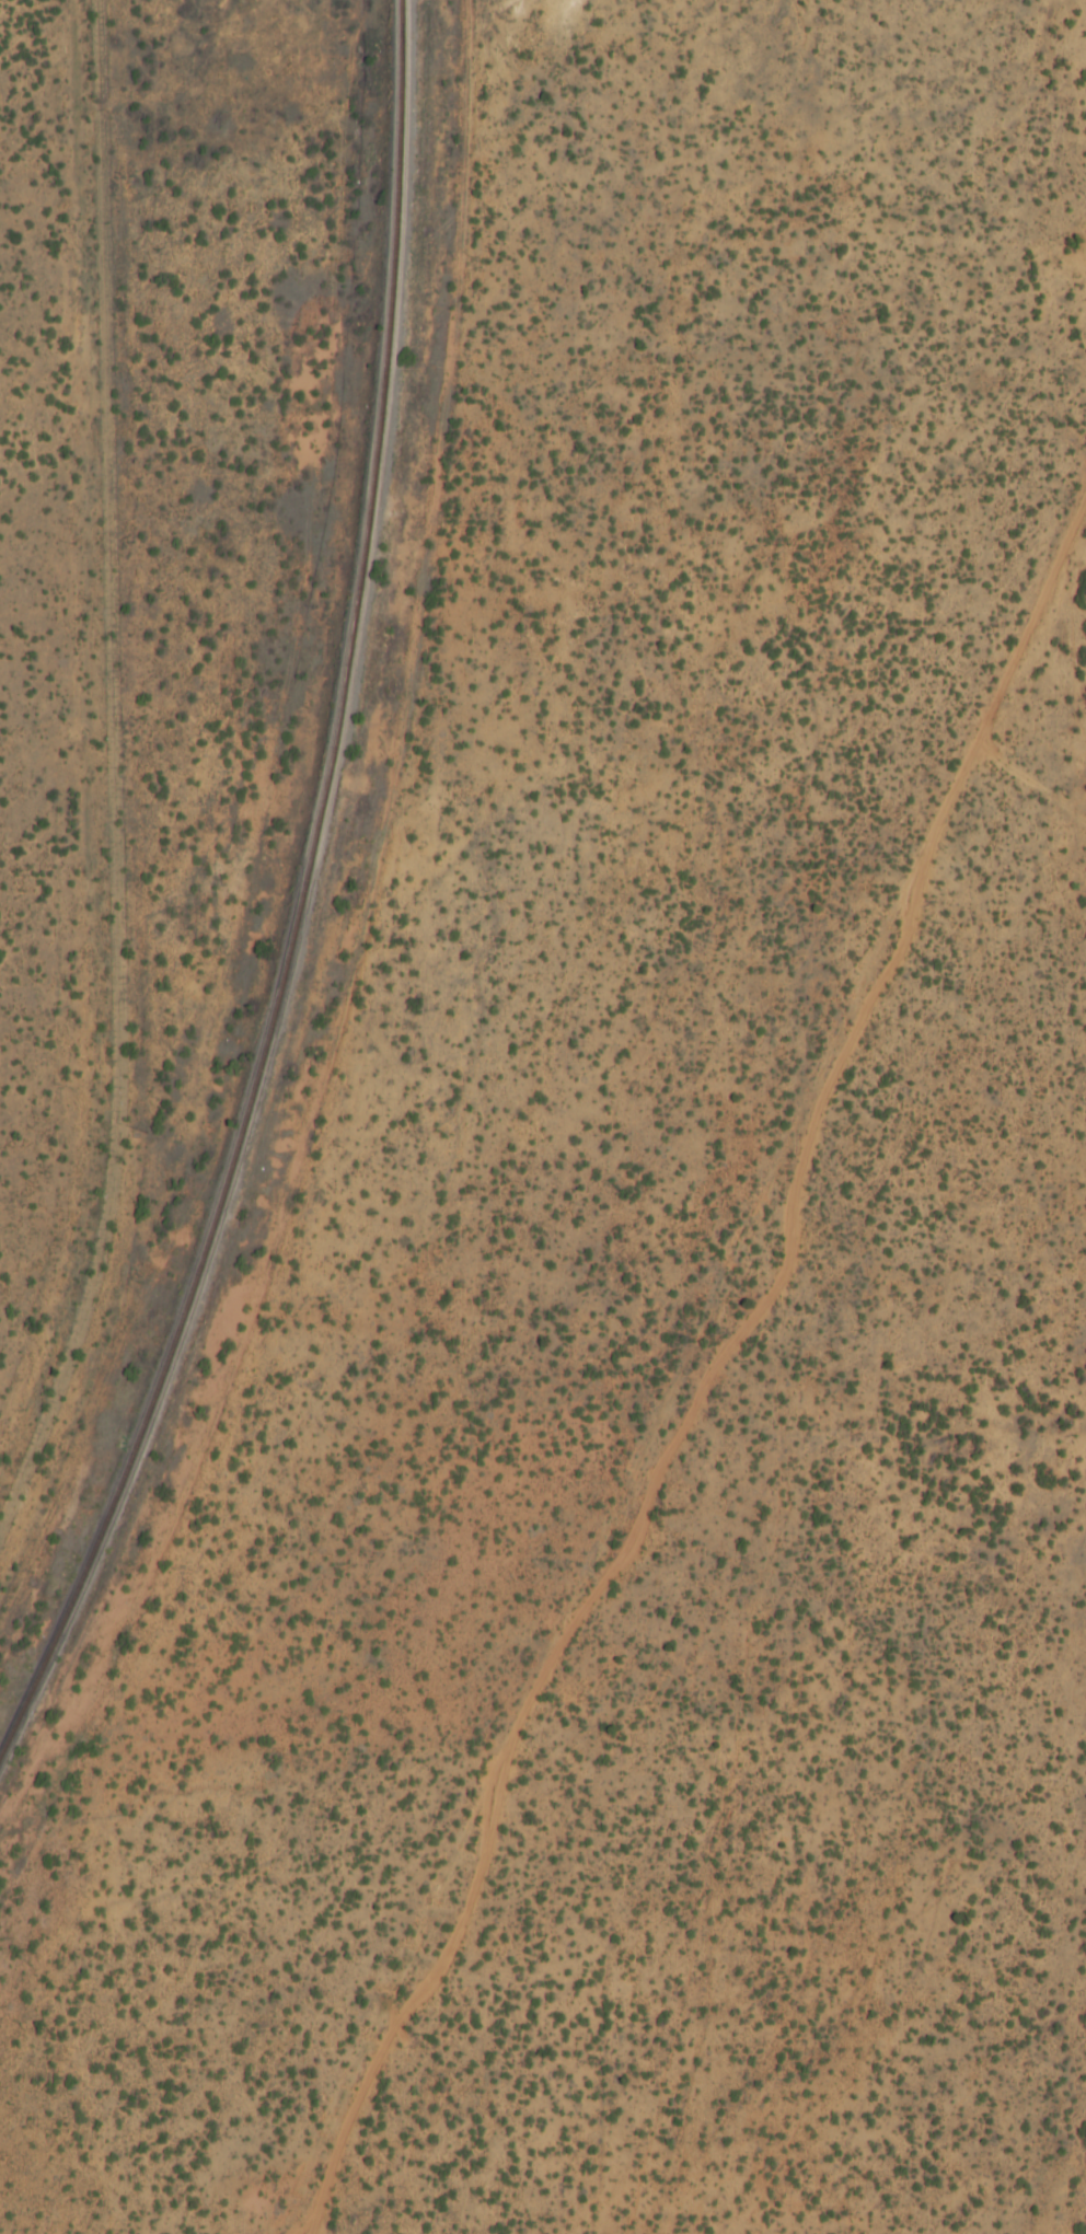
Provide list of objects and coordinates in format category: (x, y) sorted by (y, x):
road: (93, 714)
railway: (305, 901)

